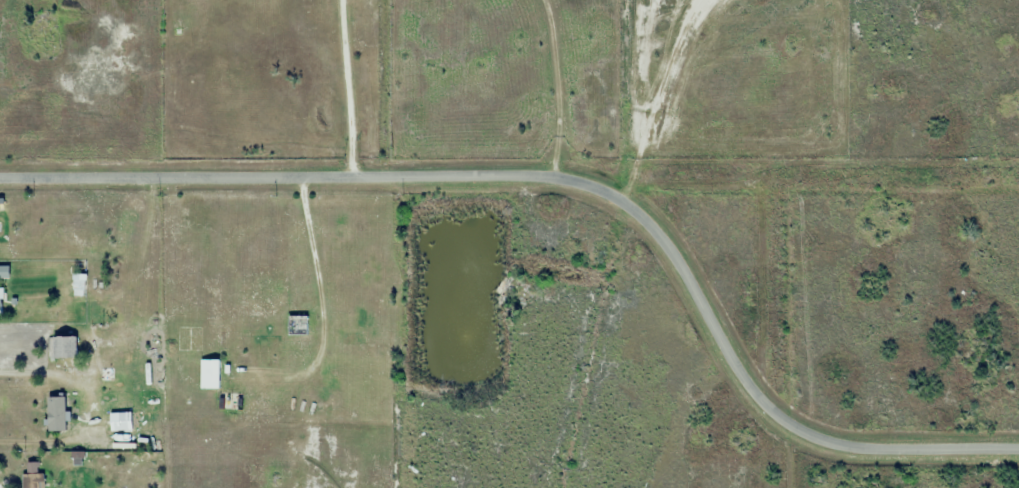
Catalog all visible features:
building: (177, 17)
road: (571, 180)
building: (297, 325)
building: (105, 341)
building: (65, 349)
building: (209, 374)
building: (229, 401)
building: (32, 480)

